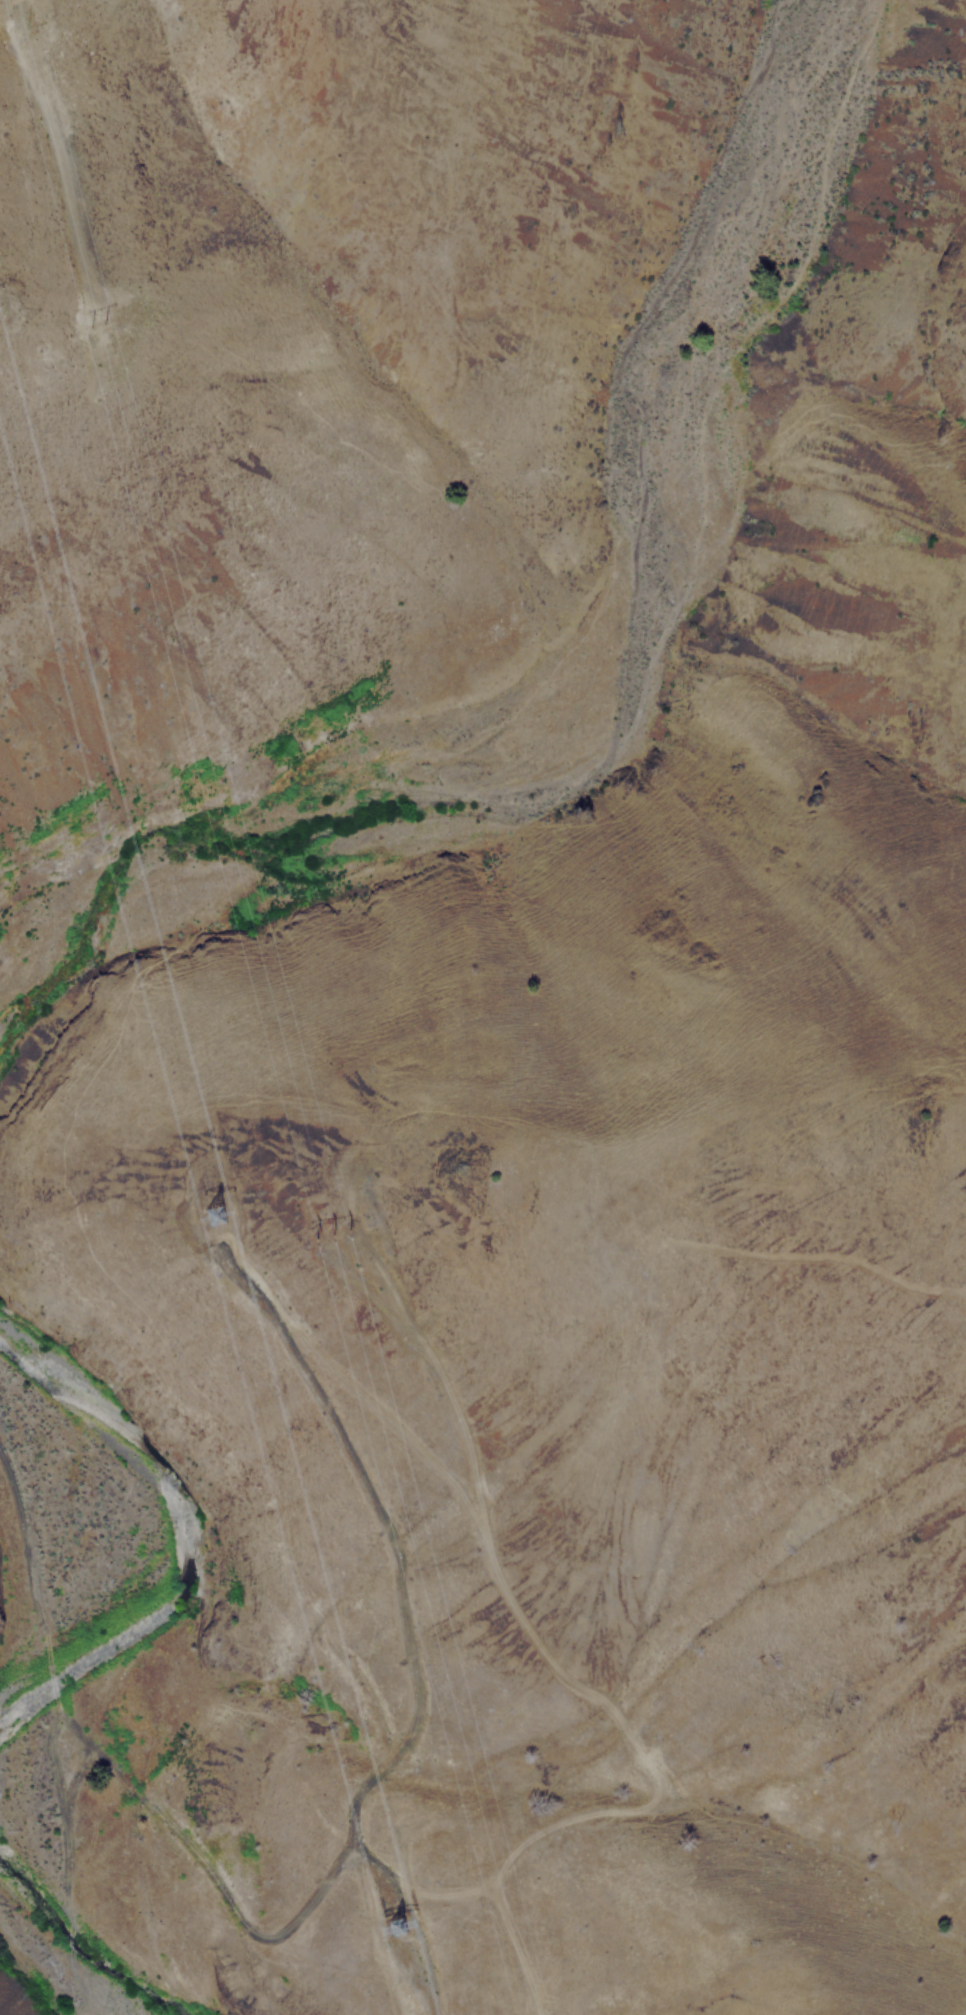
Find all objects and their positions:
power tower: (3, 308)
power tower: (116, 335)
power tower: (218, 1211)
power tower: (342, 1234)
power tower: (406, 1916)

